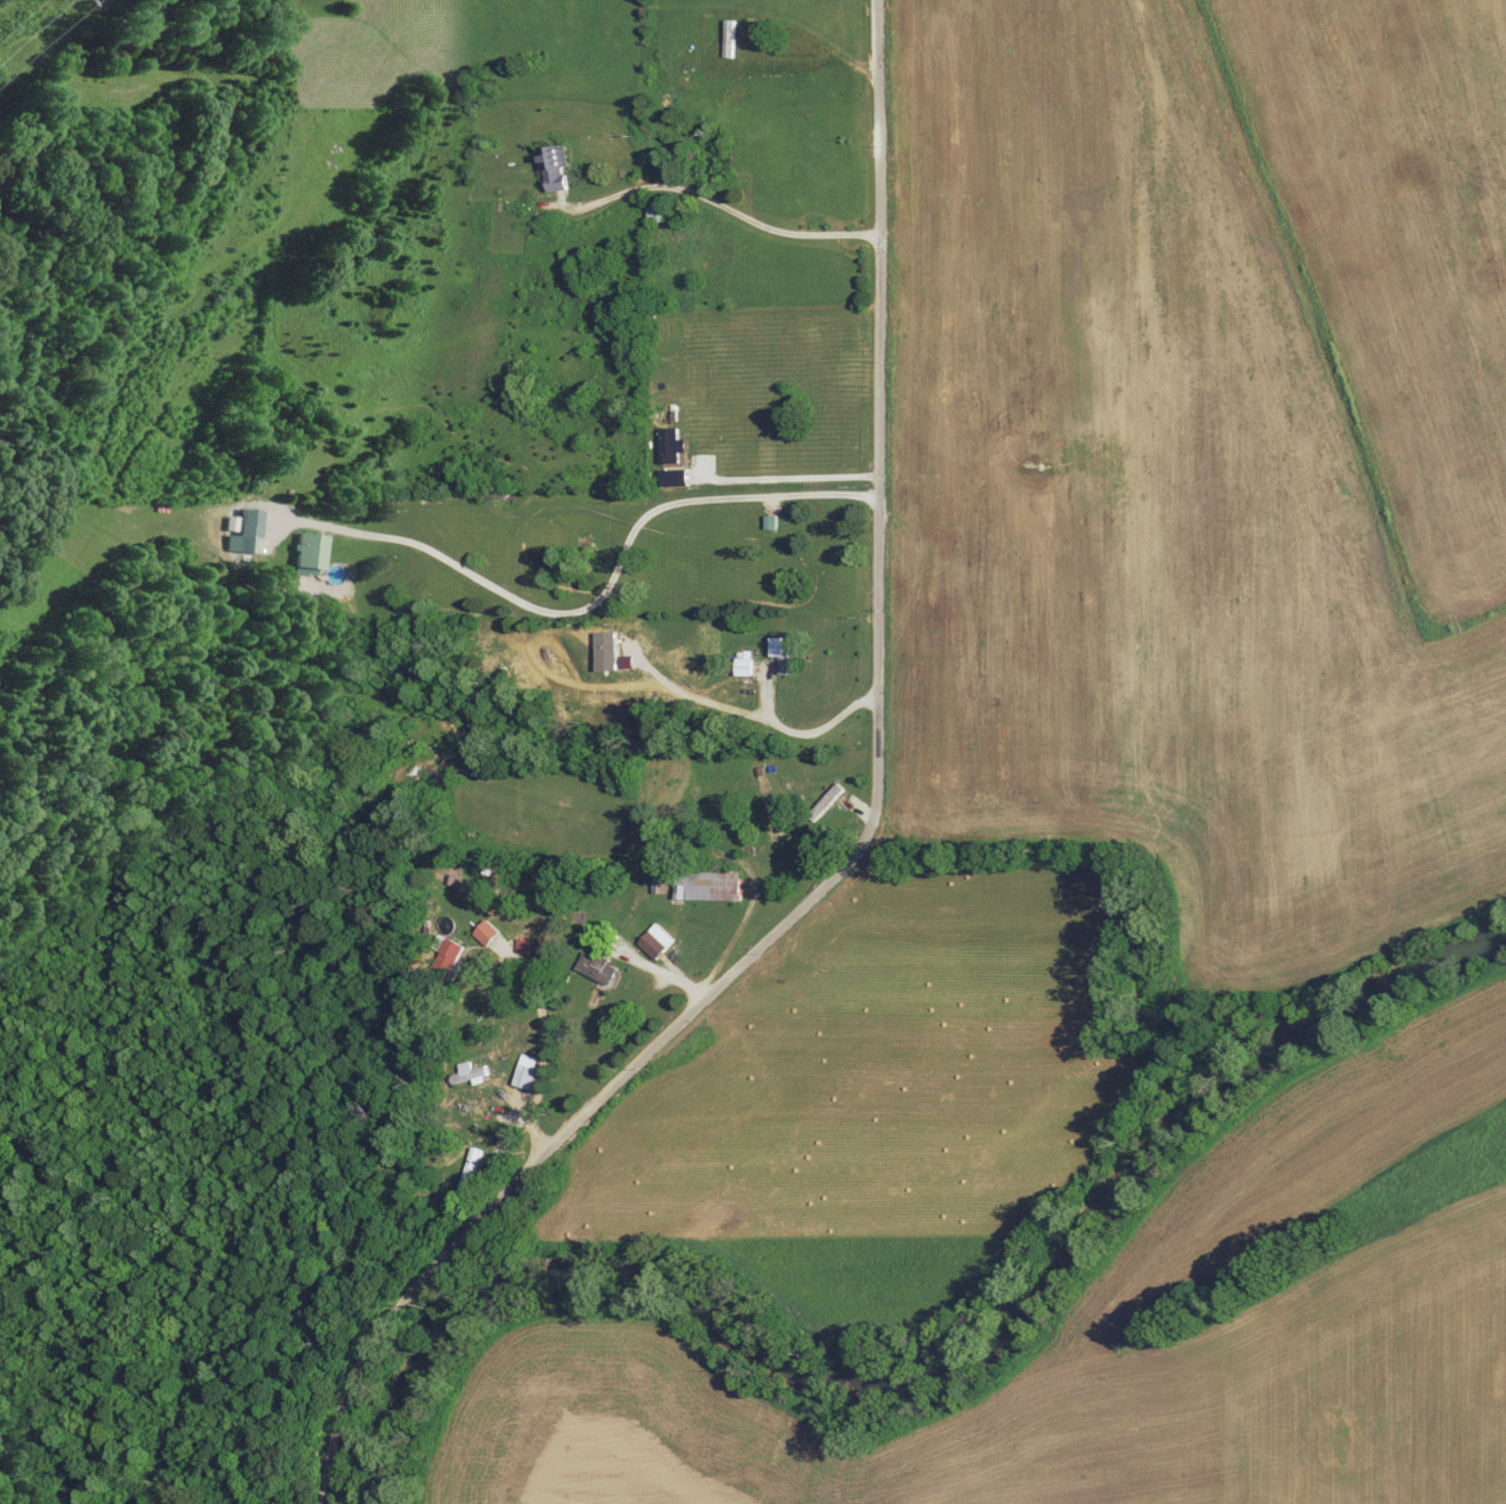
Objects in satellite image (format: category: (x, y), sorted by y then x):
building: (730, 37)
building: (558, 161)
road: (722, 202)
building: (658, 213)
building: (672, 447)
road: (785, 476)
building: (253, 522)
building: (313, 549)
road: (596, 599)
building: (784, 653)
building: (743, 666)
road: (767, 721)
building: (660, 779)
building: (832, 795)
road: (858, 852)
building: (707, 887)
building: (488, 934)
building: (660, 941)
building: (599, 967)
building: (479, 1074)
building: (528, 1076)
river: (934, 1379)

